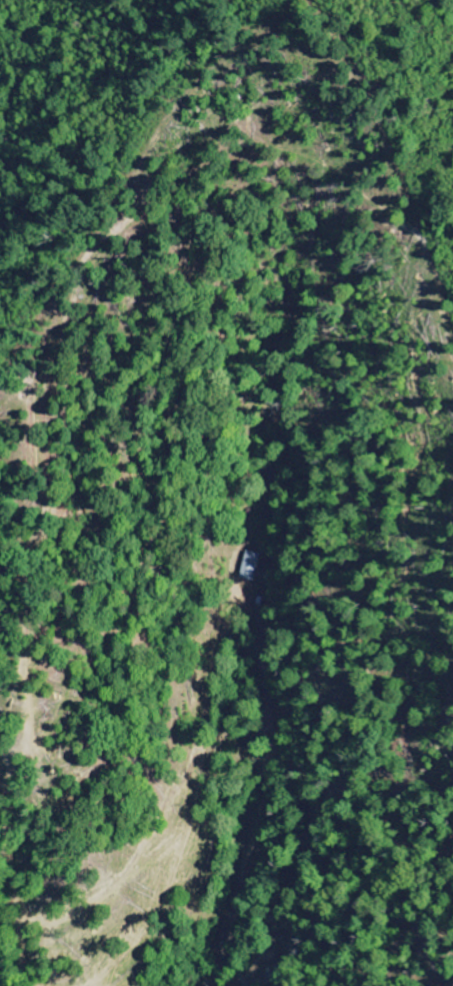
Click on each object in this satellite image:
building: (247, 566)

